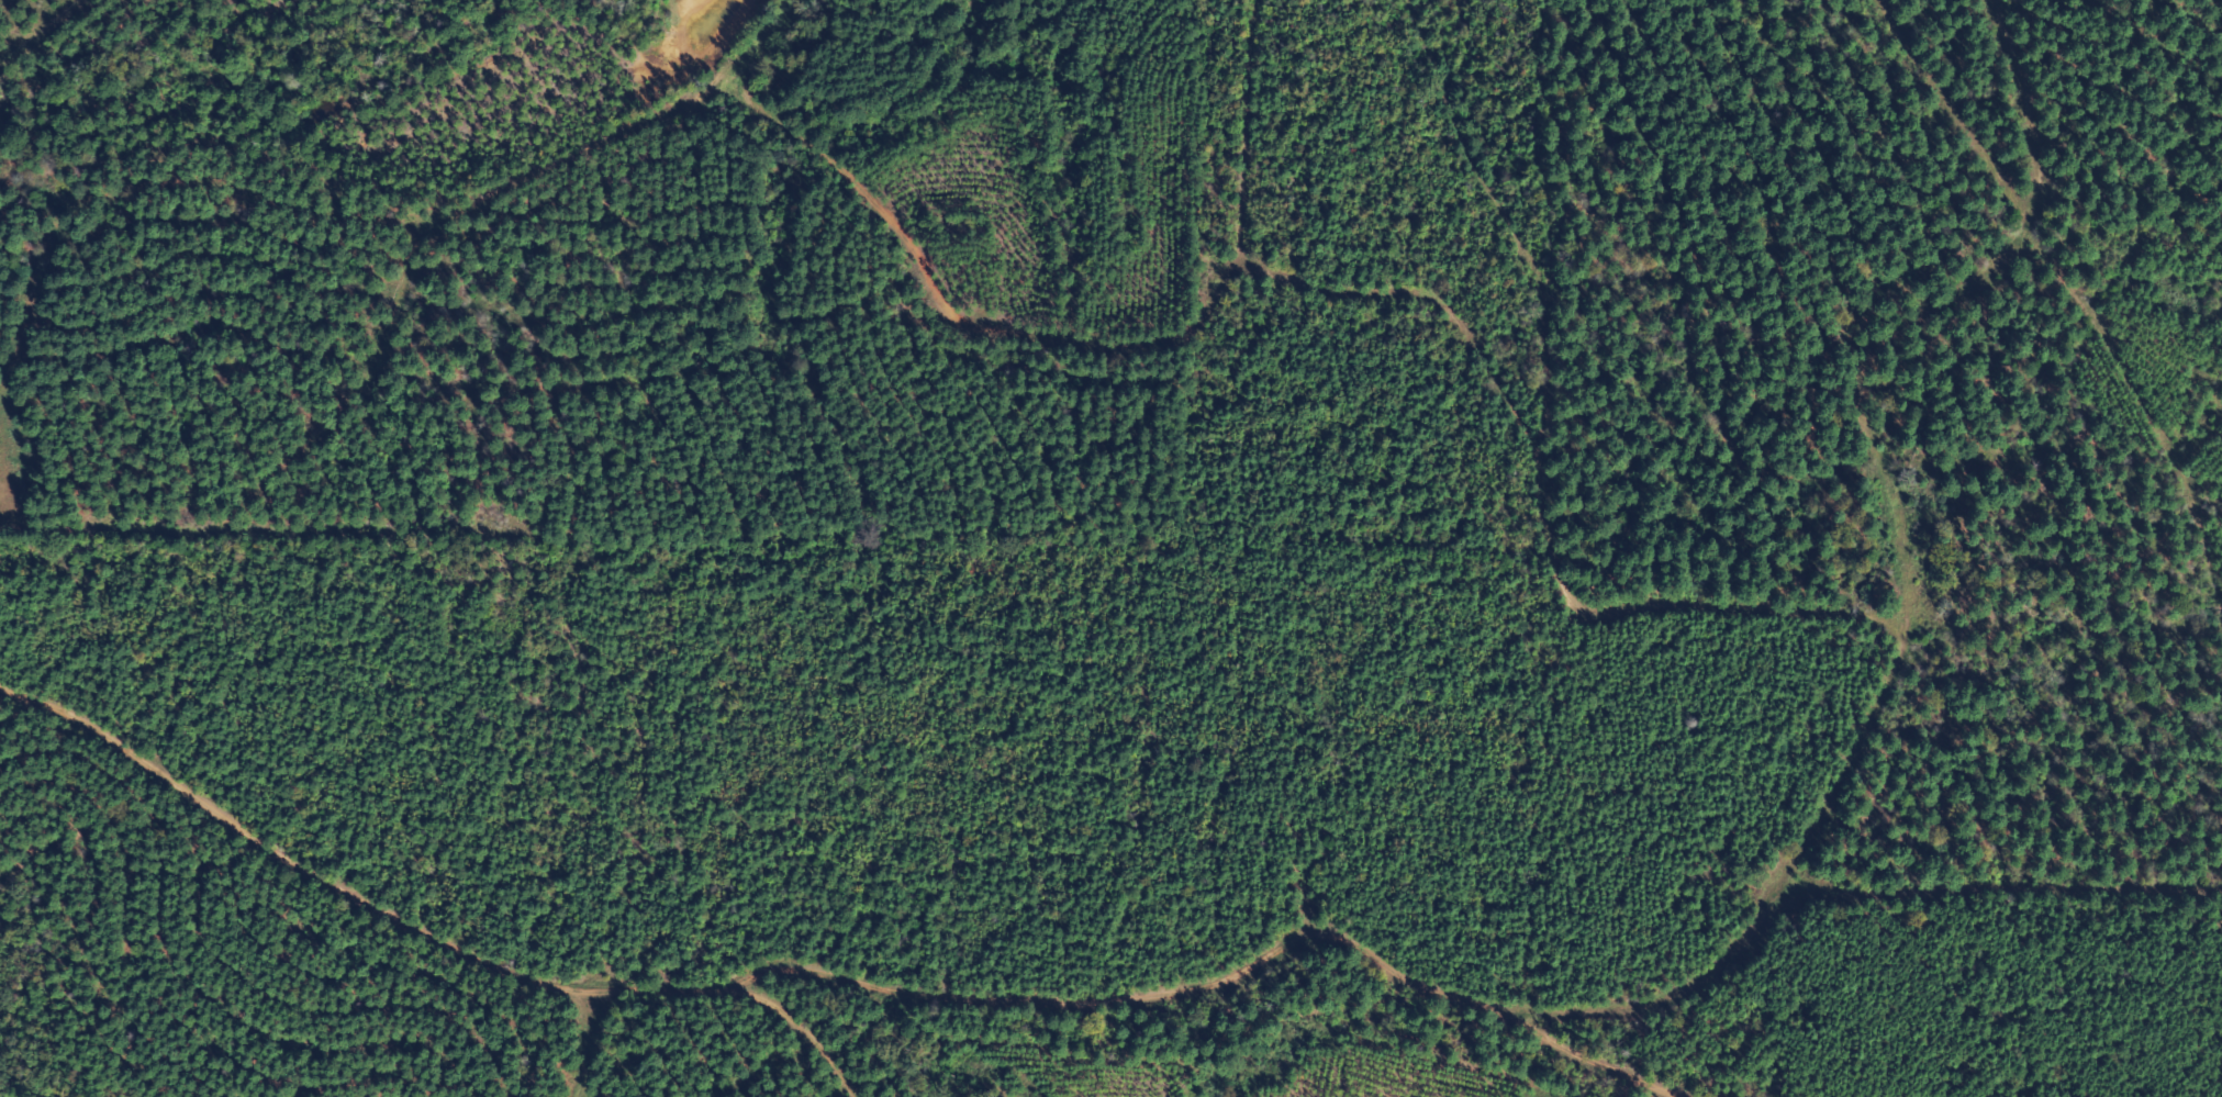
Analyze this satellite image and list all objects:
road: (2064, 326)

